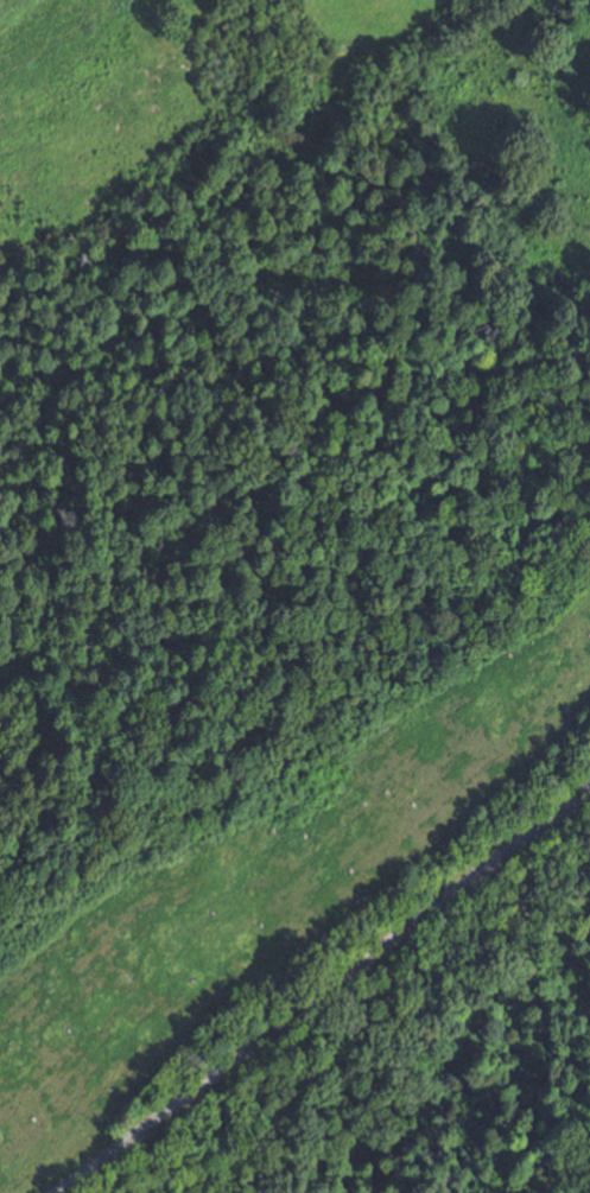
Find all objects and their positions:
road: (316, 986)

